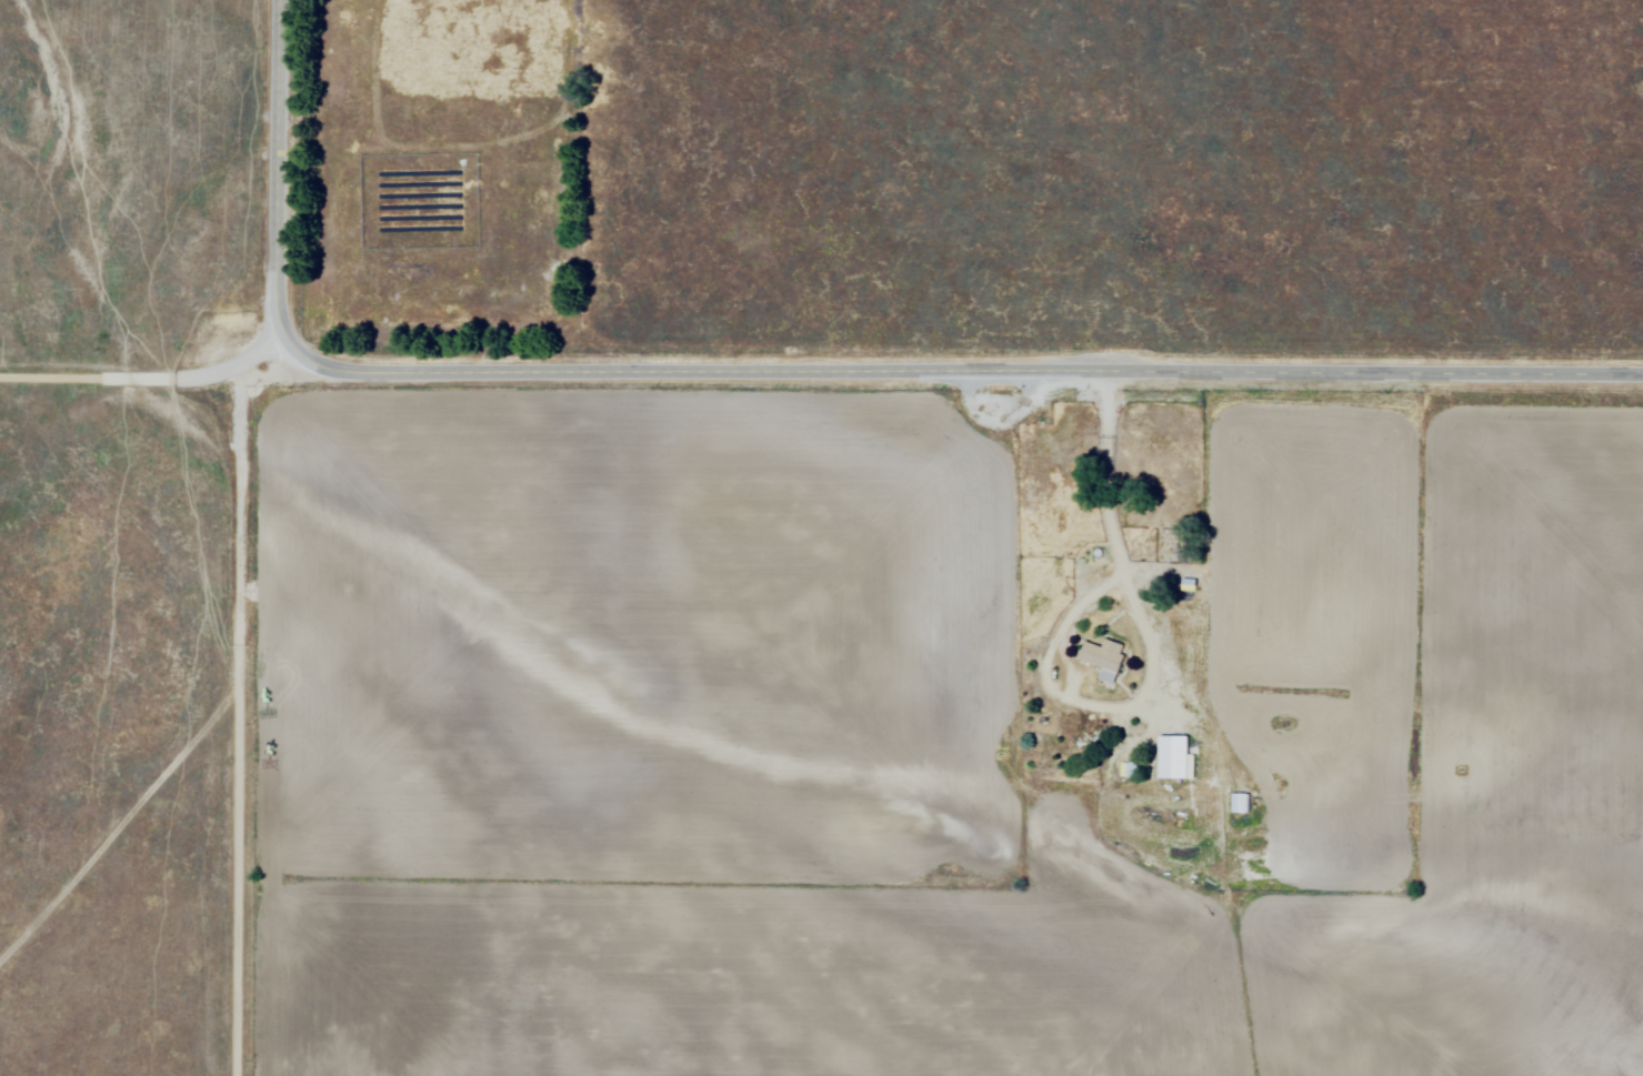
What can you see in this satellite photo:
park: (473, 48)
building: (230, 316)
storage tank: (231, 320)
road: (785, 375)
road: (121, 378)
road: (239, 504)
storage tank: (1099, 555)
building: (1189, 585)
building: (1105, 661)
road: (1153, 662)
building: (1174, 761)
building: (1241, 806)
road: (122, 831)
road: (1226, 867)
road: (236, 883)

